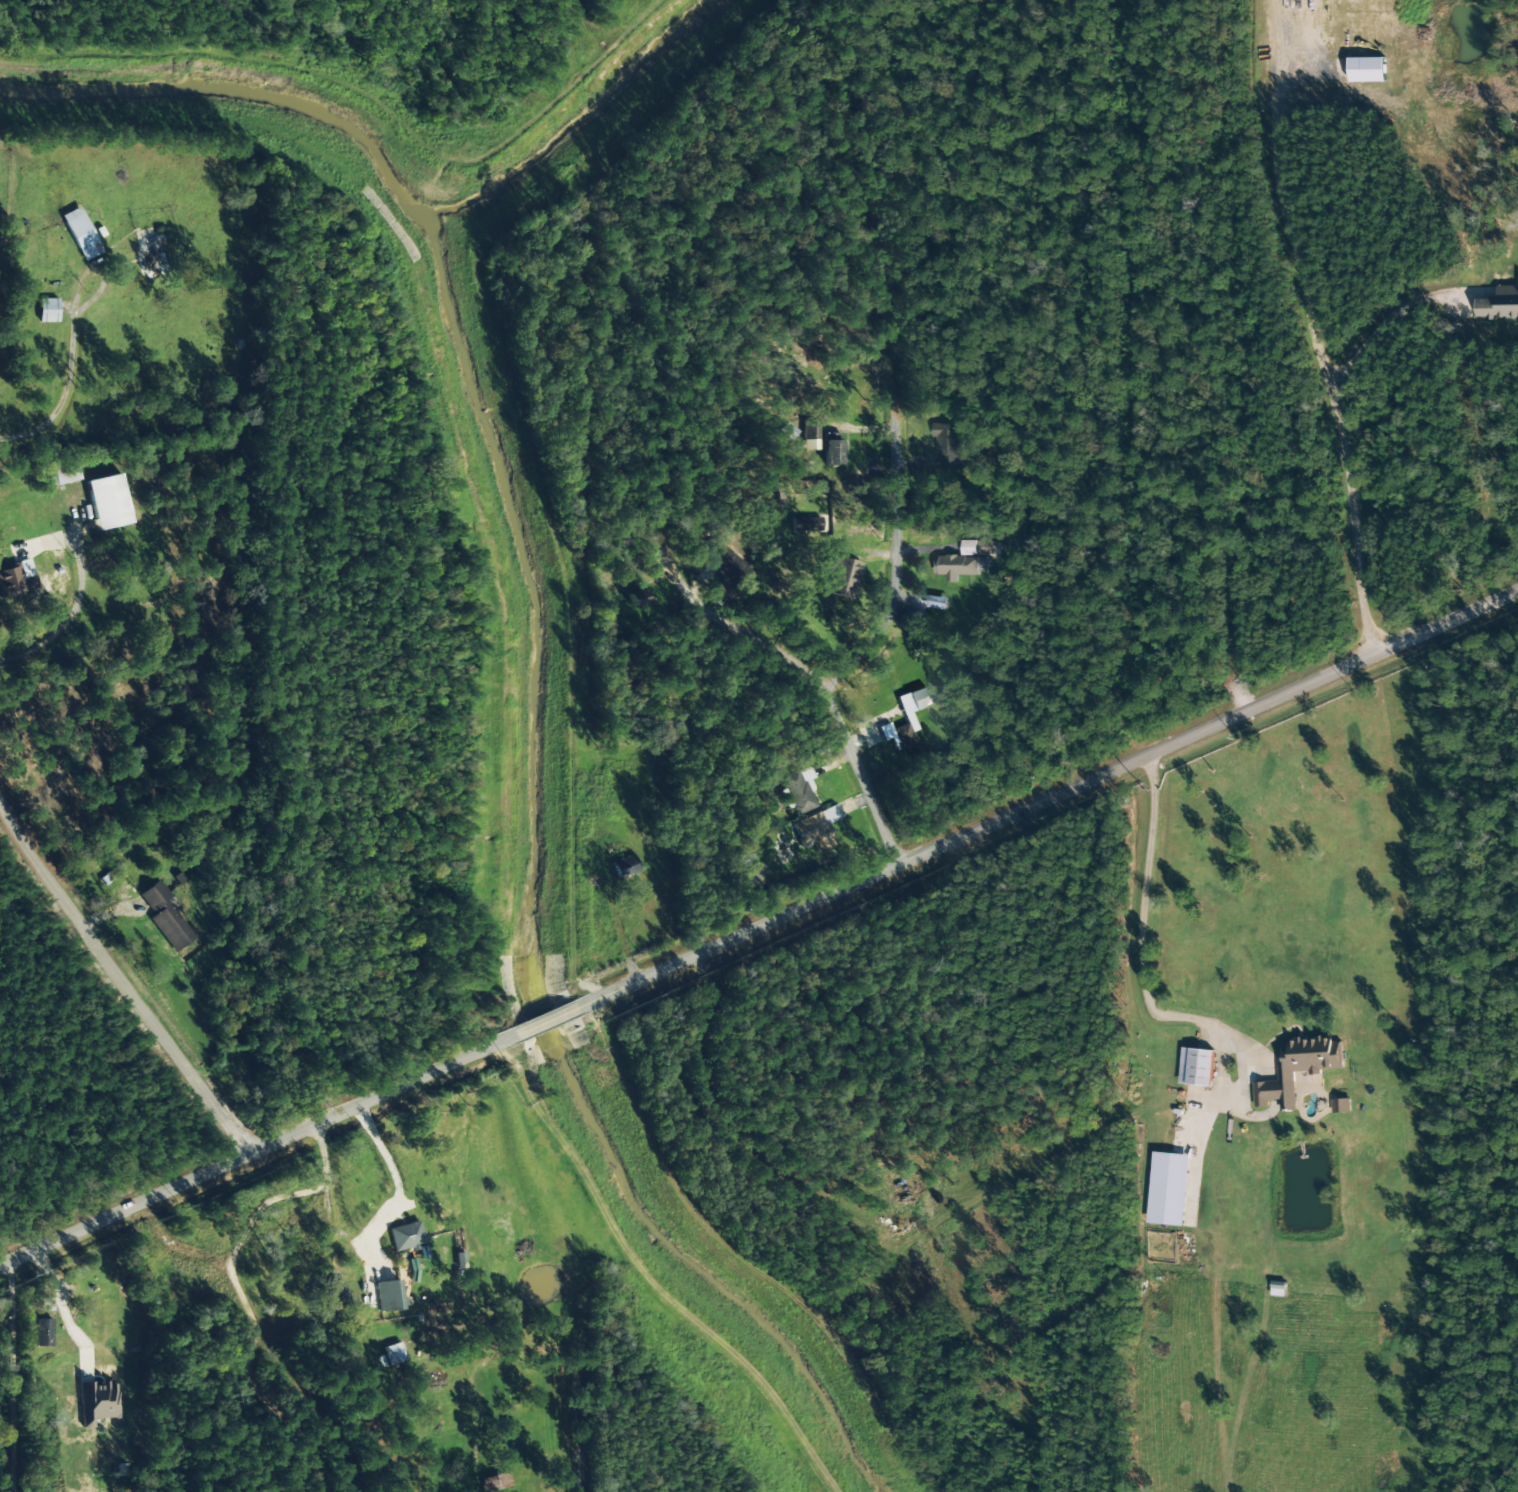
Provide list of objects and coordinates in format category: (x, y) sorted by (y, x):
building: (1366, 70)
building: (80, 234)
building: (1499, 304)
building: (48, 310)
road: (999, 343)
road: (70, 370)
road: (887, 373)
road: (1108, 385)
road: (1326, 385)
building: (832, 452)
building: (66, 473)
building: (109, 502)
building: (806, 524)
building: (964, 560)
building: (730, 565)
building: (16, 576)
building: (840, 577)
building: (637, 598)
building: (936, 602)
road: (76, 604)
road: (820, 686)
building: (905, 721)
building: (800, 789)
road: (1050, 795)
building: (816, 827)
building: (625, 867)
building: (166, 917)
road: (1136, 939)
road: (123, 974)
road: (545, 1021)
building: (1196, 1067)
building: (1298, 1069)
building: (1341, 1106)
road: (253, 1153)
road: (380, 1160)
building: (1168, 1189)
building: (408, 1238)
building: (460, 1260)
building: (413, 1270)
building: (389, 1295)
building: (46, 1304)
building: (43, 1333)
building: (394, 1354)
road: (14, 1378)
building: (97, 1403)
building: (495, 1482)

